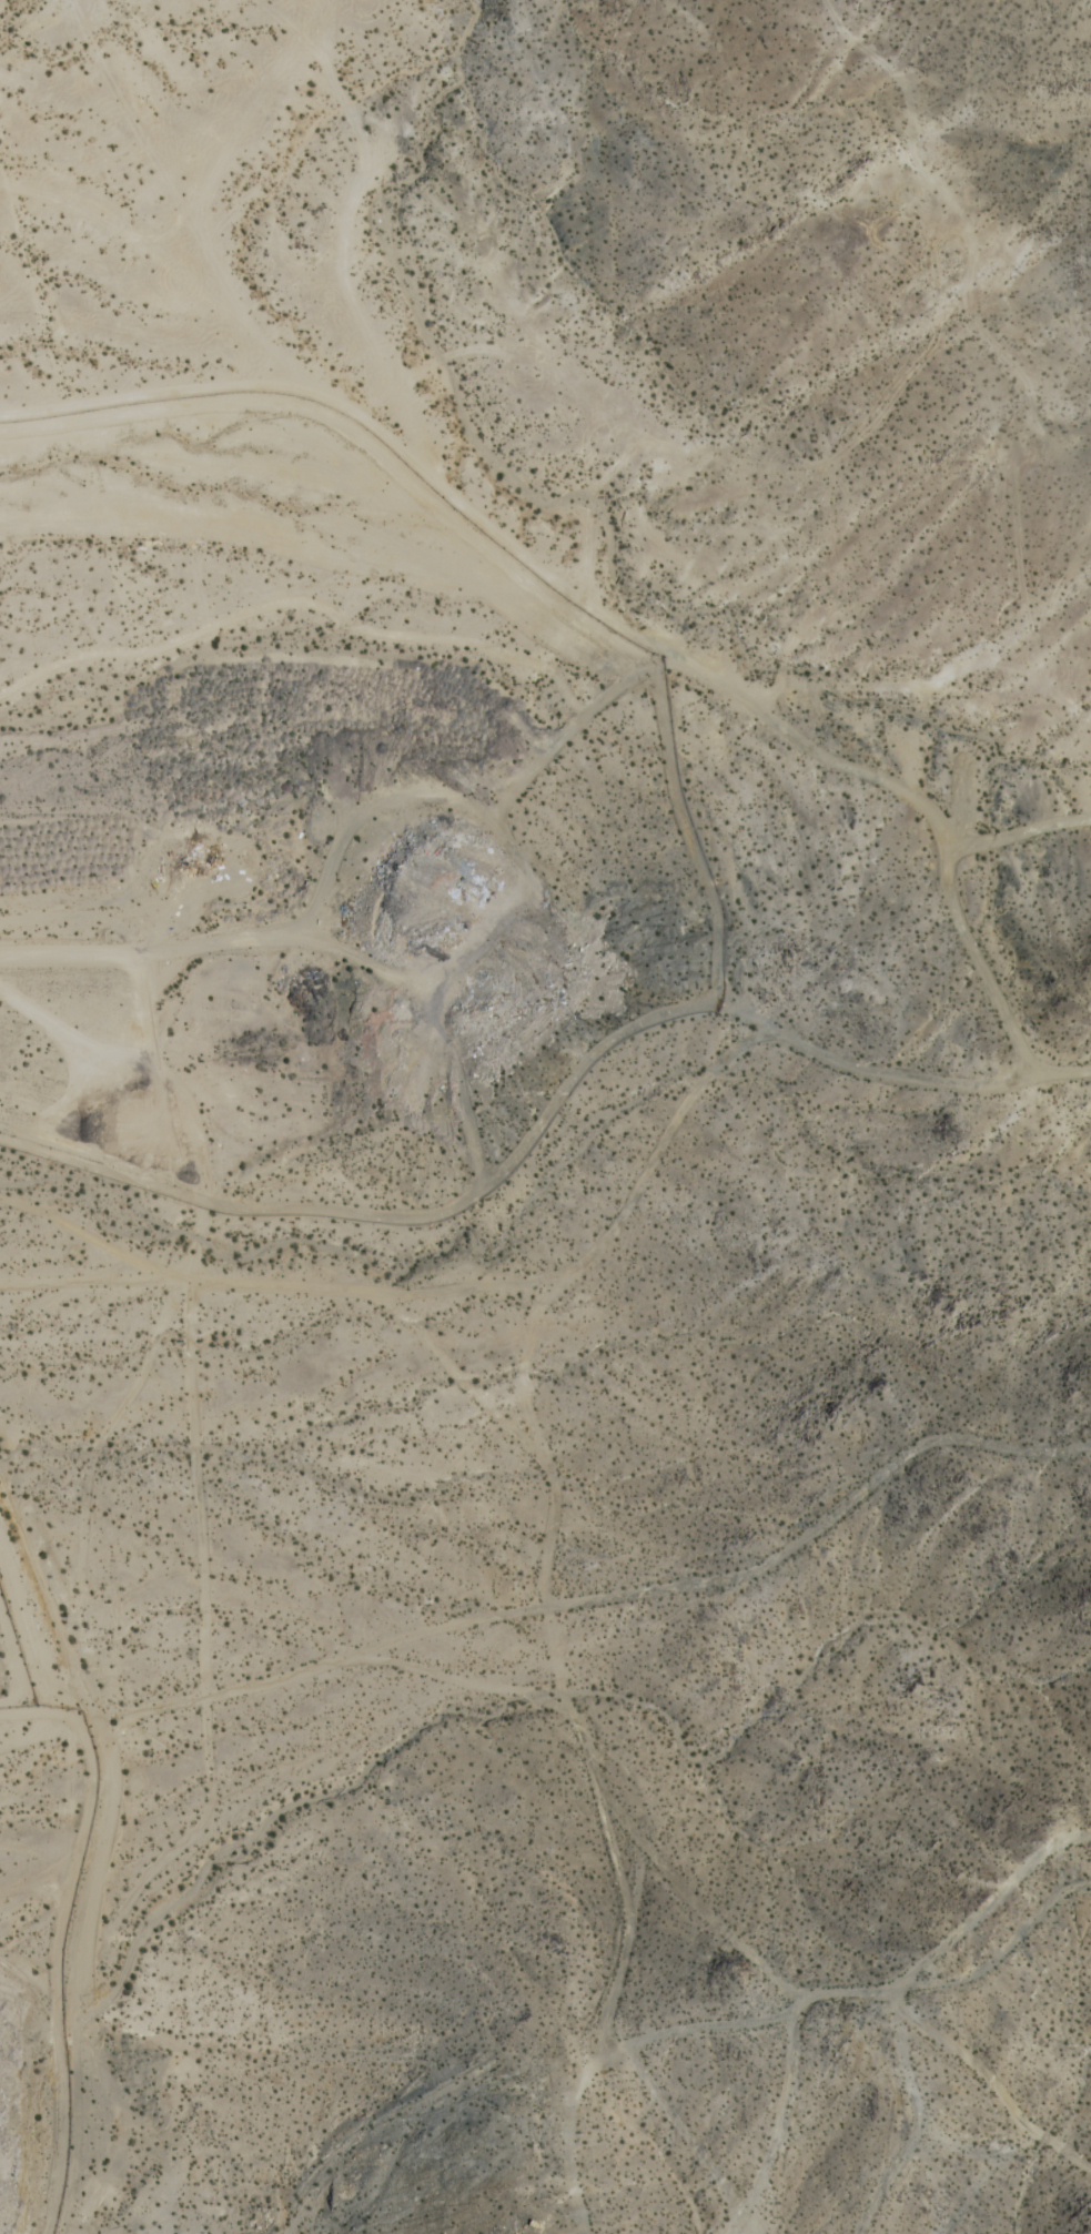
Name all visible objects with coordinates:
road: (940, 835)
road: (1017, 835)
road: (779, 2013)

